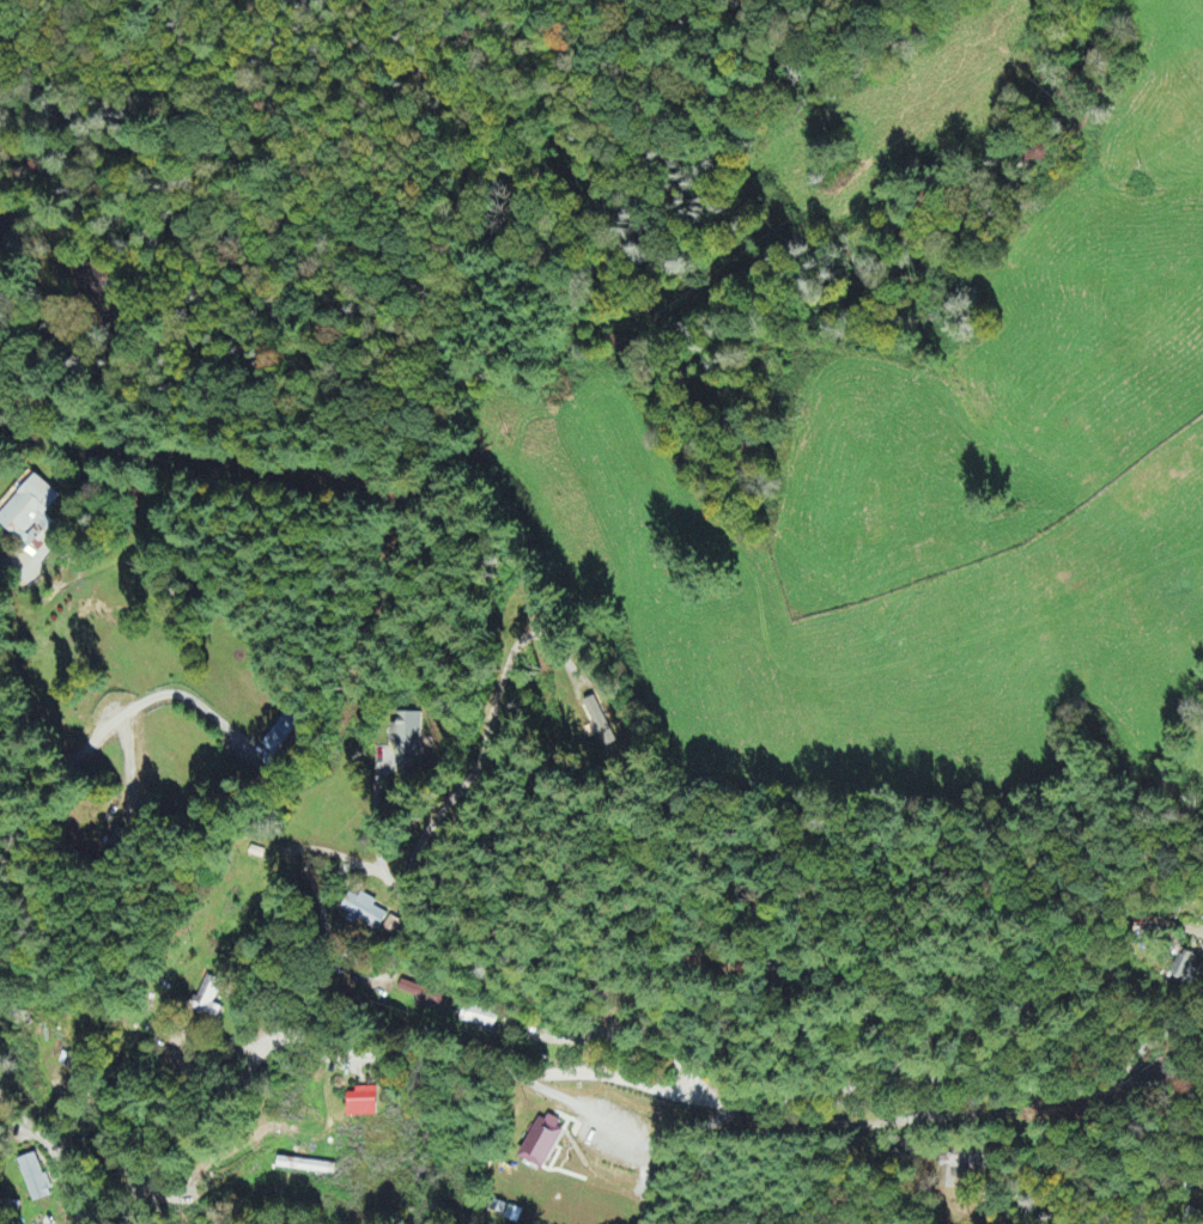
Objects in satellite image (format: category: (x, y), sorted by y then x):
building: (30, 516)
building: (599, 721)
building: (280, 736)
building: (406, 736)
road: (2, 872)
building: (364, 912)
building: (391, 927)
building: (1183, 966)
road: (524, 997)
building: (208, 999)
building: (425, 999)
building: (479, 1017)
road: (1155, 1037)
road: (533, 1068)
building: (360, 1104)
building: (540, 1143)
building: (304, 1168)
building: (34, 1180)
road: (91, 1214)

